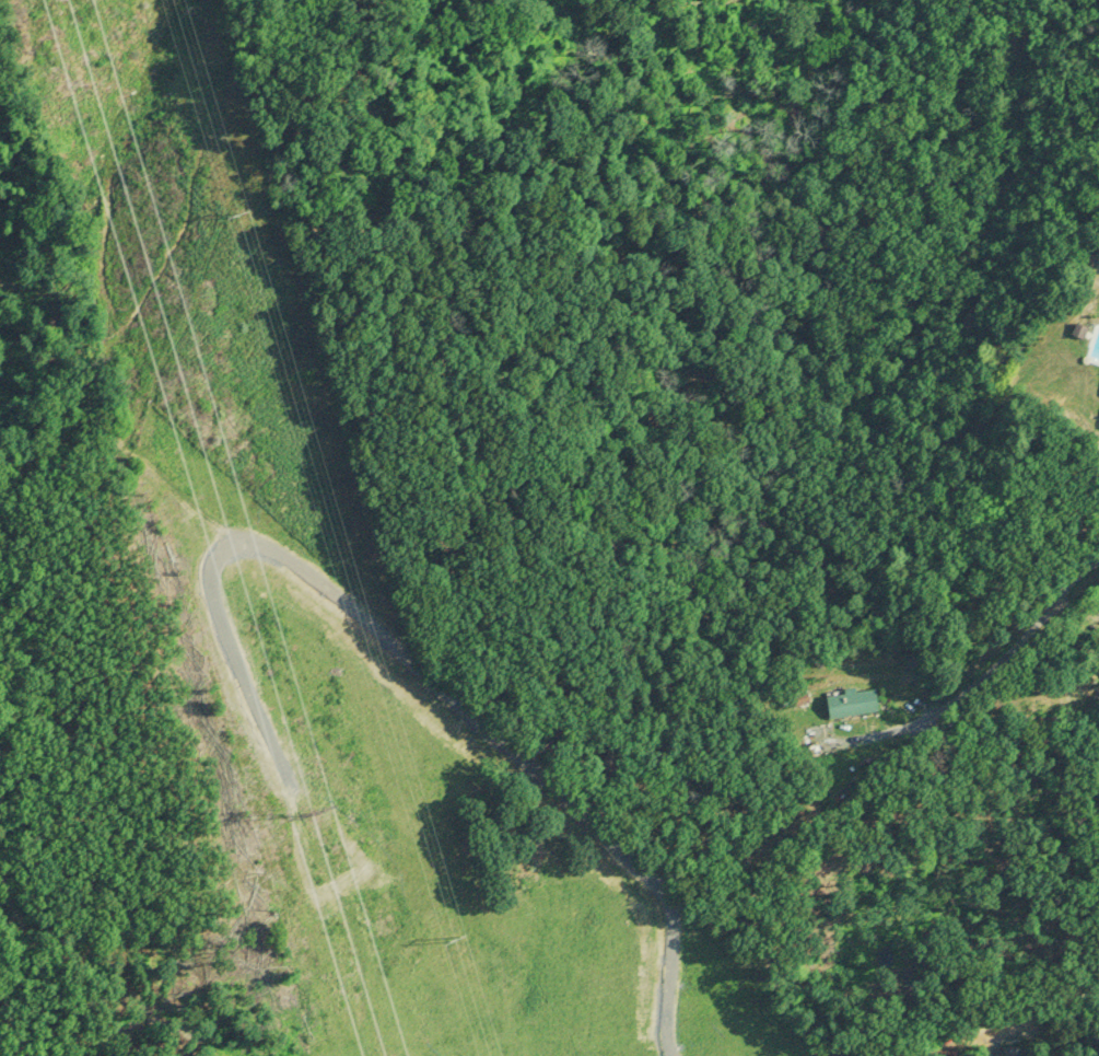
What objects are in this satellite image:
power tower: (247, 213)
building: (856, 703)
road: (577, 798)
power tower: (314, 823)
power tower: (461, 936)
building: (1013, 1051)

